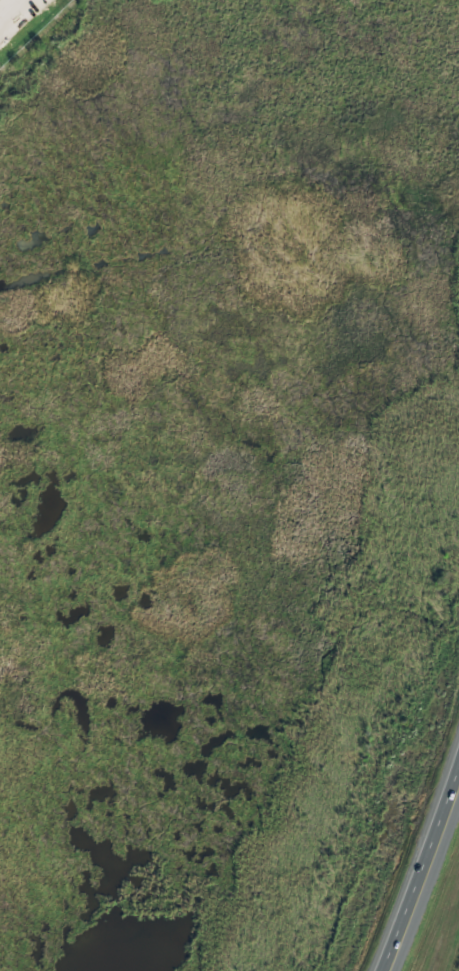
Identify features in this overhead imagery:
road: (422, 872)

